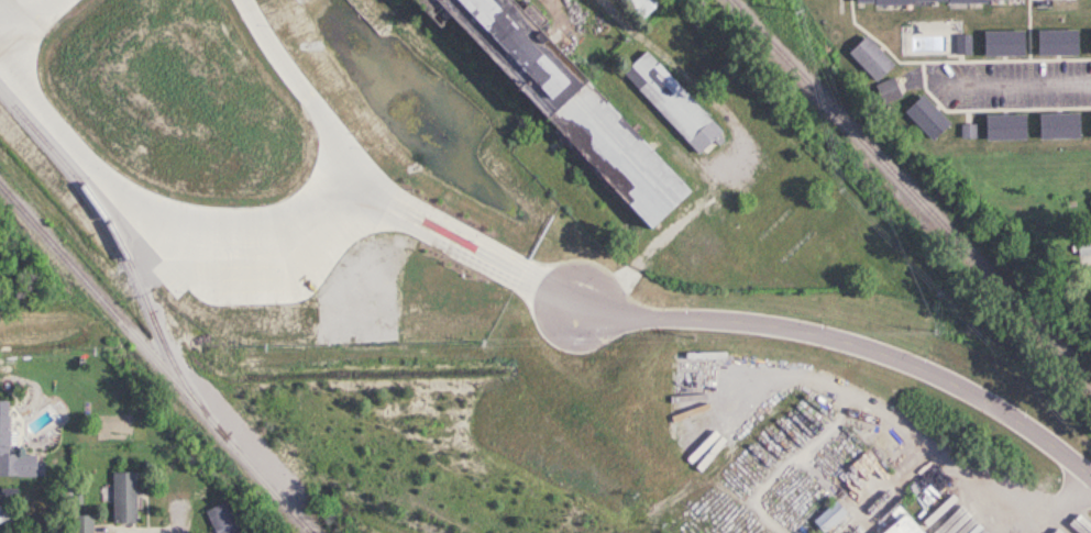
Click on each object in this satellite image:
building: (929, 1)
building: (640, 7)
building: (1089, 42)
building: (1055, 43)
building: (963, 44)
building: (1001, 44)
building: (869, 58)
road: (1012, 86)
building: (888, 90)
building: (552, 101)
building: (669, 102)
building: (924, 116)
building: (1055, 125)
building: (1089, 125)
building: (1002, 126)
railway: (911, 195)
road: (374, 197)
road: (124, 203)
railway: (20, 208)
building: (1082, 247)
park: (38, 276)
road: (853, 349)
railway: (174, 381)
building: (13, 455)
building: (121, 498)
road: (1078, 510)
building: (828, 518)
building: (219, 519)
building: (80, 523)
building: (902, 526)

